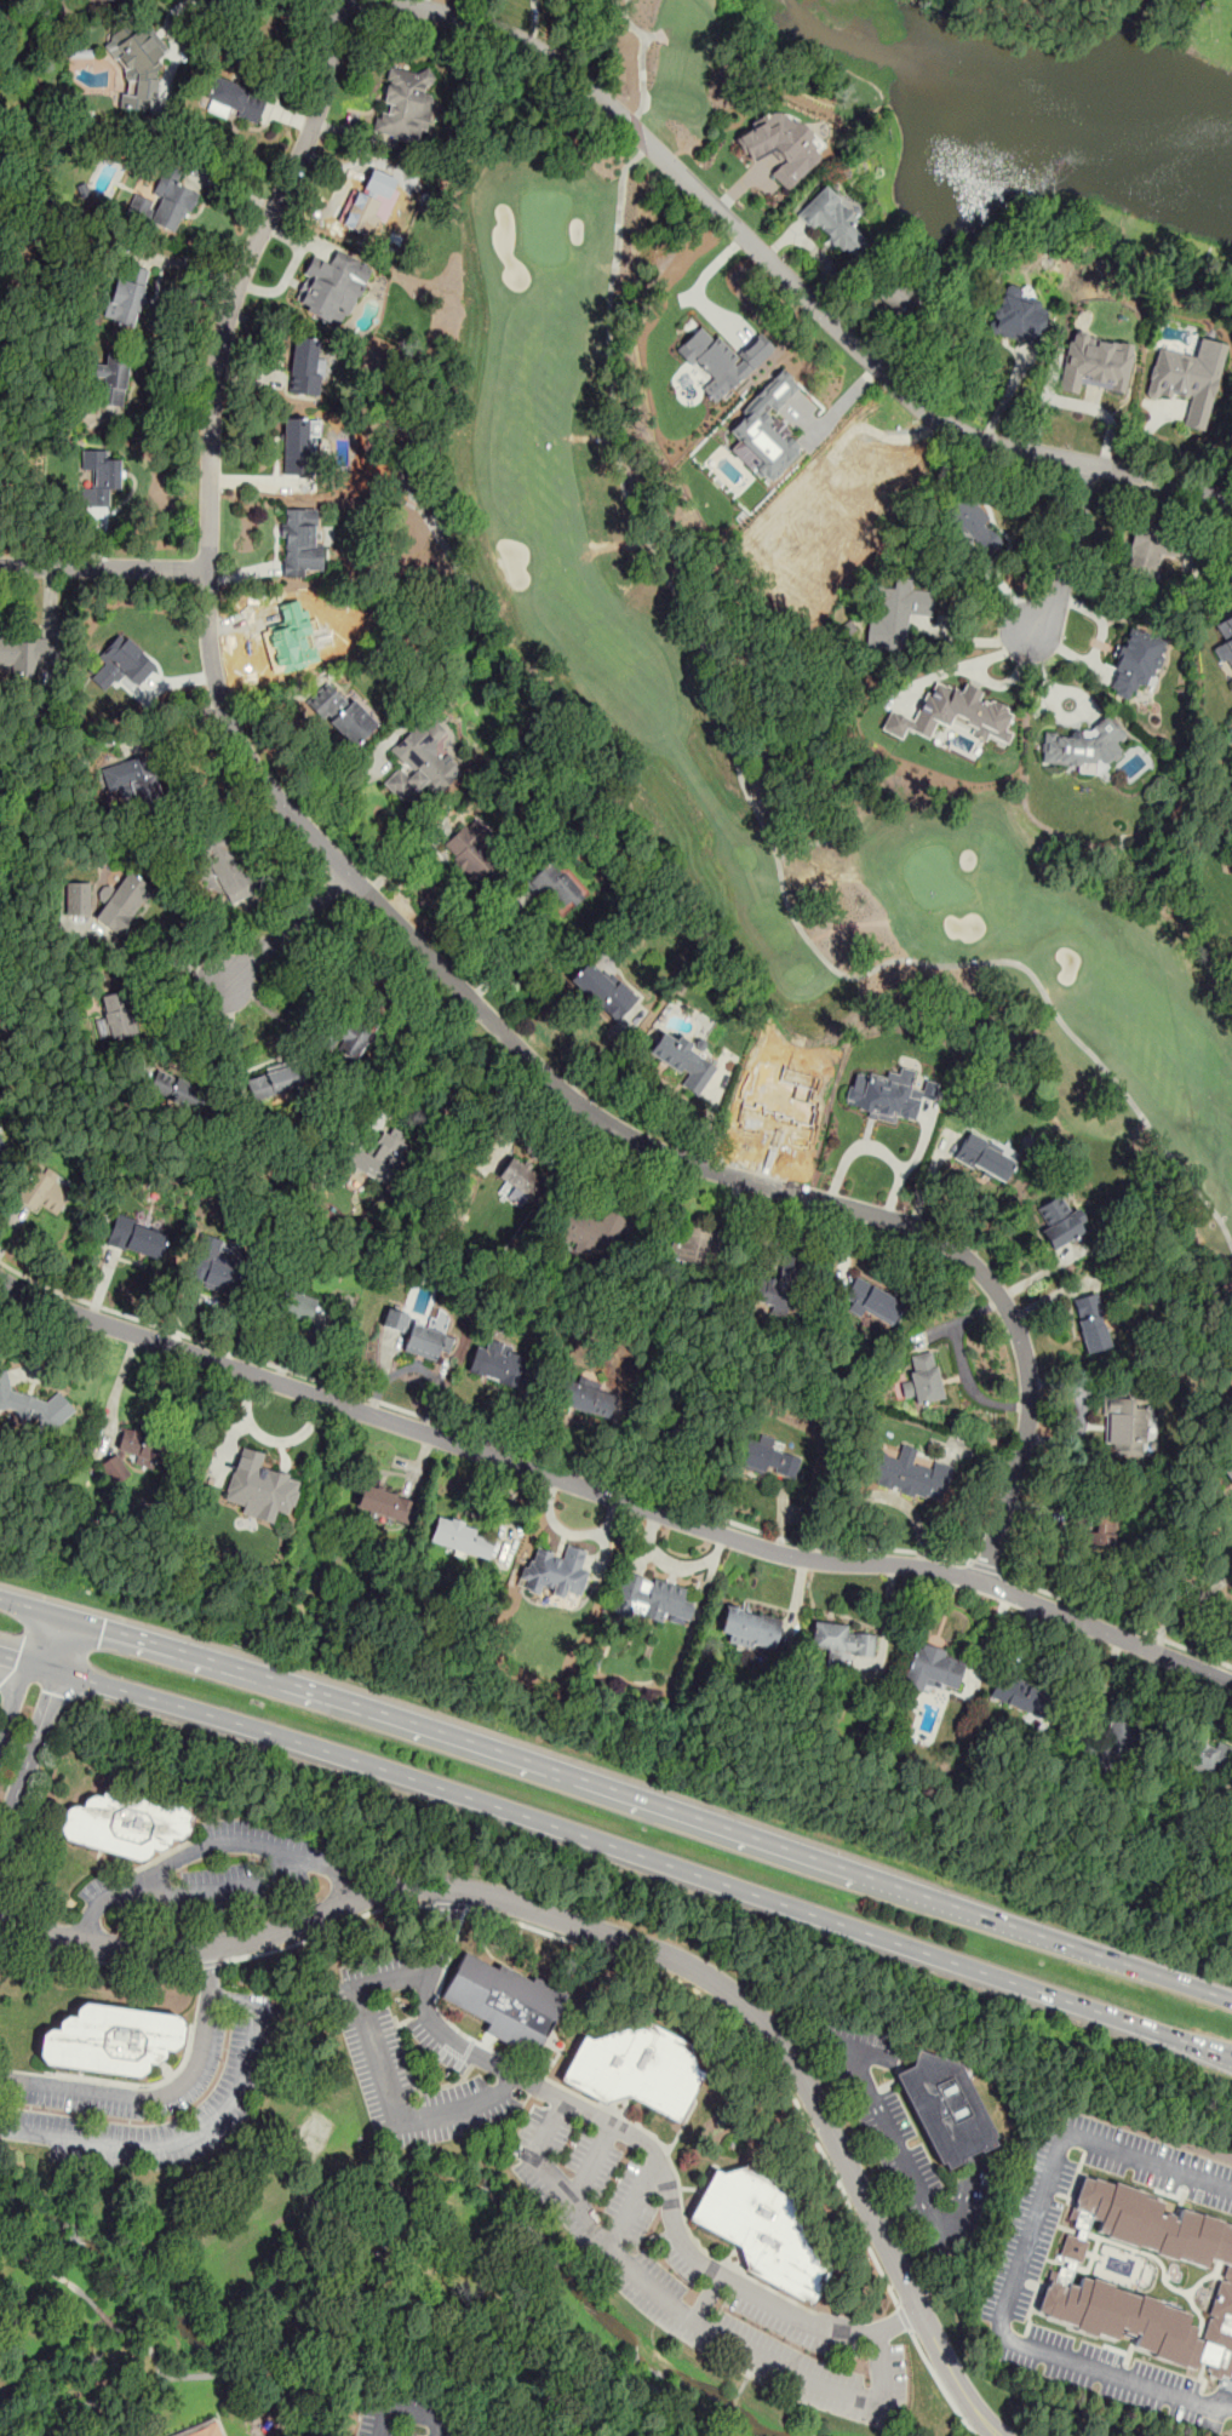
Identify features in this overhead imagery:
road: (218, 0)
road: (618, 7)
road: (642, 53)
building: (137, 61)
building: (235, 101)
building: (406, 104)
park: (1031, 116)
road: (638, 133)
building: (779, 145)
building: (164, 204)
building: (363, 214)
building: (832, 220)
road: (184, 263)
road: (785, 276)
building: (332, 286)
building: (126, 294)
building: (1016, 316)
building: (721, 361)
building: (1095, 363)
building: (305, 366)
building: (1188, 378)
building: (113, 380)
building: (766, 431)
building: (297, 446)
building: (99, 483)
road: (256, 483)
building: (979, 529)
building: (300, 540)
road: (1068, 551)
building: (1145, 551)
road: (104, 567)
building: (896, 613)
park: (609, 631)
road: (976, 640)
building: (1225, 640)
building: (28, 653)
building: (127, 659)
building: (1135, 663)
building: (953, 713)
building: (346, 715)
building: (1085, 745)
building: (419, 764)
building: (137, 781)
road: (356, 781)
road: (762, 824)
building: (476, 850)
building: (227, 867)
building: (551, 887)
building: (79, 898)
building: (124, 902)
road: (288, 927)
road: (403, 928)
road: (503, 947)
road: (171, 962)
building: (602, 990)
building: (118, 1014)
road: (277, 1016)
building: (343, 1034)
road: (228, 1039)
building: (682, 1061)
road: (460, 1076)
building: (269, 1082)
building: (177, 1090)
building: (887, 1095)
building: (2, 1146)
building: (376, 1157)
building: (985, 1158)
building: (515, 1183)
building: (44, 1192)
building: (1058, 1219)
building: (588, 1232)
building: (136, 1237)
building: (689, 1244)
building: (214, 1265)
building: (777, 1282)
building: (872, 1301)
building: (293, 1303)
building: (1090, 1323)
building: (420, 1328)
building: (500, 1364)
building: (922, 1379)
building: (583, 1399)
building: (684, 1400)
building: (31, 1406)
building: (1125, 1427)
road: (479, 1438)
building: (139, 1448)
building: (770, 1460)
building: (911, 1472)
building: (1230, 1473)
building: (259, 1486)
road: (612, 1496)
building: (384, 1504)
building: (1094, 1536)
building: (458, 1537)
road: (985, 1564)
building: (557, 1572)
building: (652, 1598)
road: (1187, 1609)
road: (1114, 1620)
building: (750, 1628)
traffic signals: (103, 1633)
building: (842, 1640)
traffic signals: (17, 1660)
building: (933, 1667)
traffic signals: (36, 1689)
building: (1024, 1698)
road: (30, 1706)
building: (1123, 1738)
building: (1207, 1756)
road: (618, 1794)
building: (127, 1821)
road: (212, 1846)
road: (619, 1846)
road: (346, 1886)
road: (222, 1890)
road: (451, 1905)
road: (90, 1924)
road: (330, 1928)
road: (443, 1933)
road: (619, 1941)
road: (97, 1961)
road: (212, 1964)
road: (213, 1971)
building: (503, 2001)
road: (260, 2013)
road: (749, 2033)
building: (110, 2039)
road: (455, 2040)
road: (813, 2040)
building: (638, 2068)
building: (946, 2107)
road: (879, 2111)
road: (594, 2161)
road: (963, 2196)
road: (636, 2205)
building: (756, 2225)
building: (1073, 2248)
road: (924, 2254)
road: (1020, 2271)
building: (1228, 2277)
road: (374, 2289)
road: (761, 2297)
road: (709, 2299)
road: (88, 2302)
road: (904, 2319)
road: (899, 2323)
road: (940, 2384)
road: (405, 2412)
building: (204, 2430)

